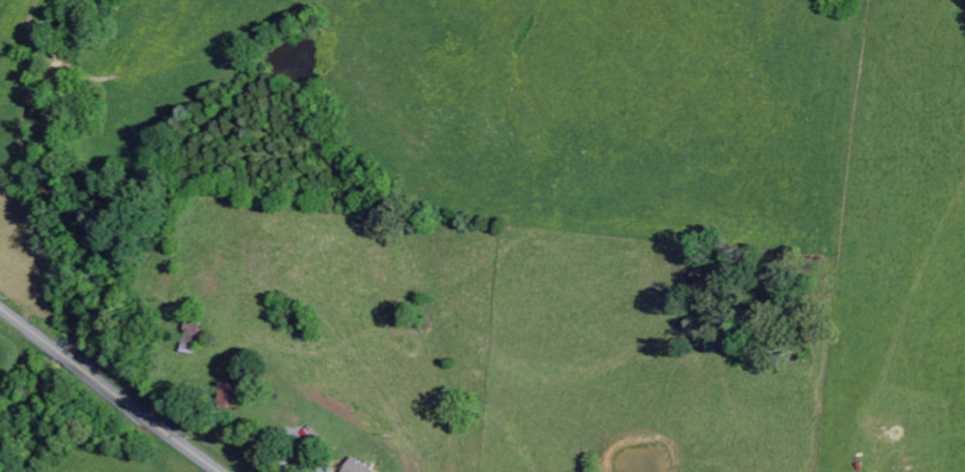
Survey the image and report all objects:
road: (110, 389)
building: (238, 396)
building: (362, 467)

